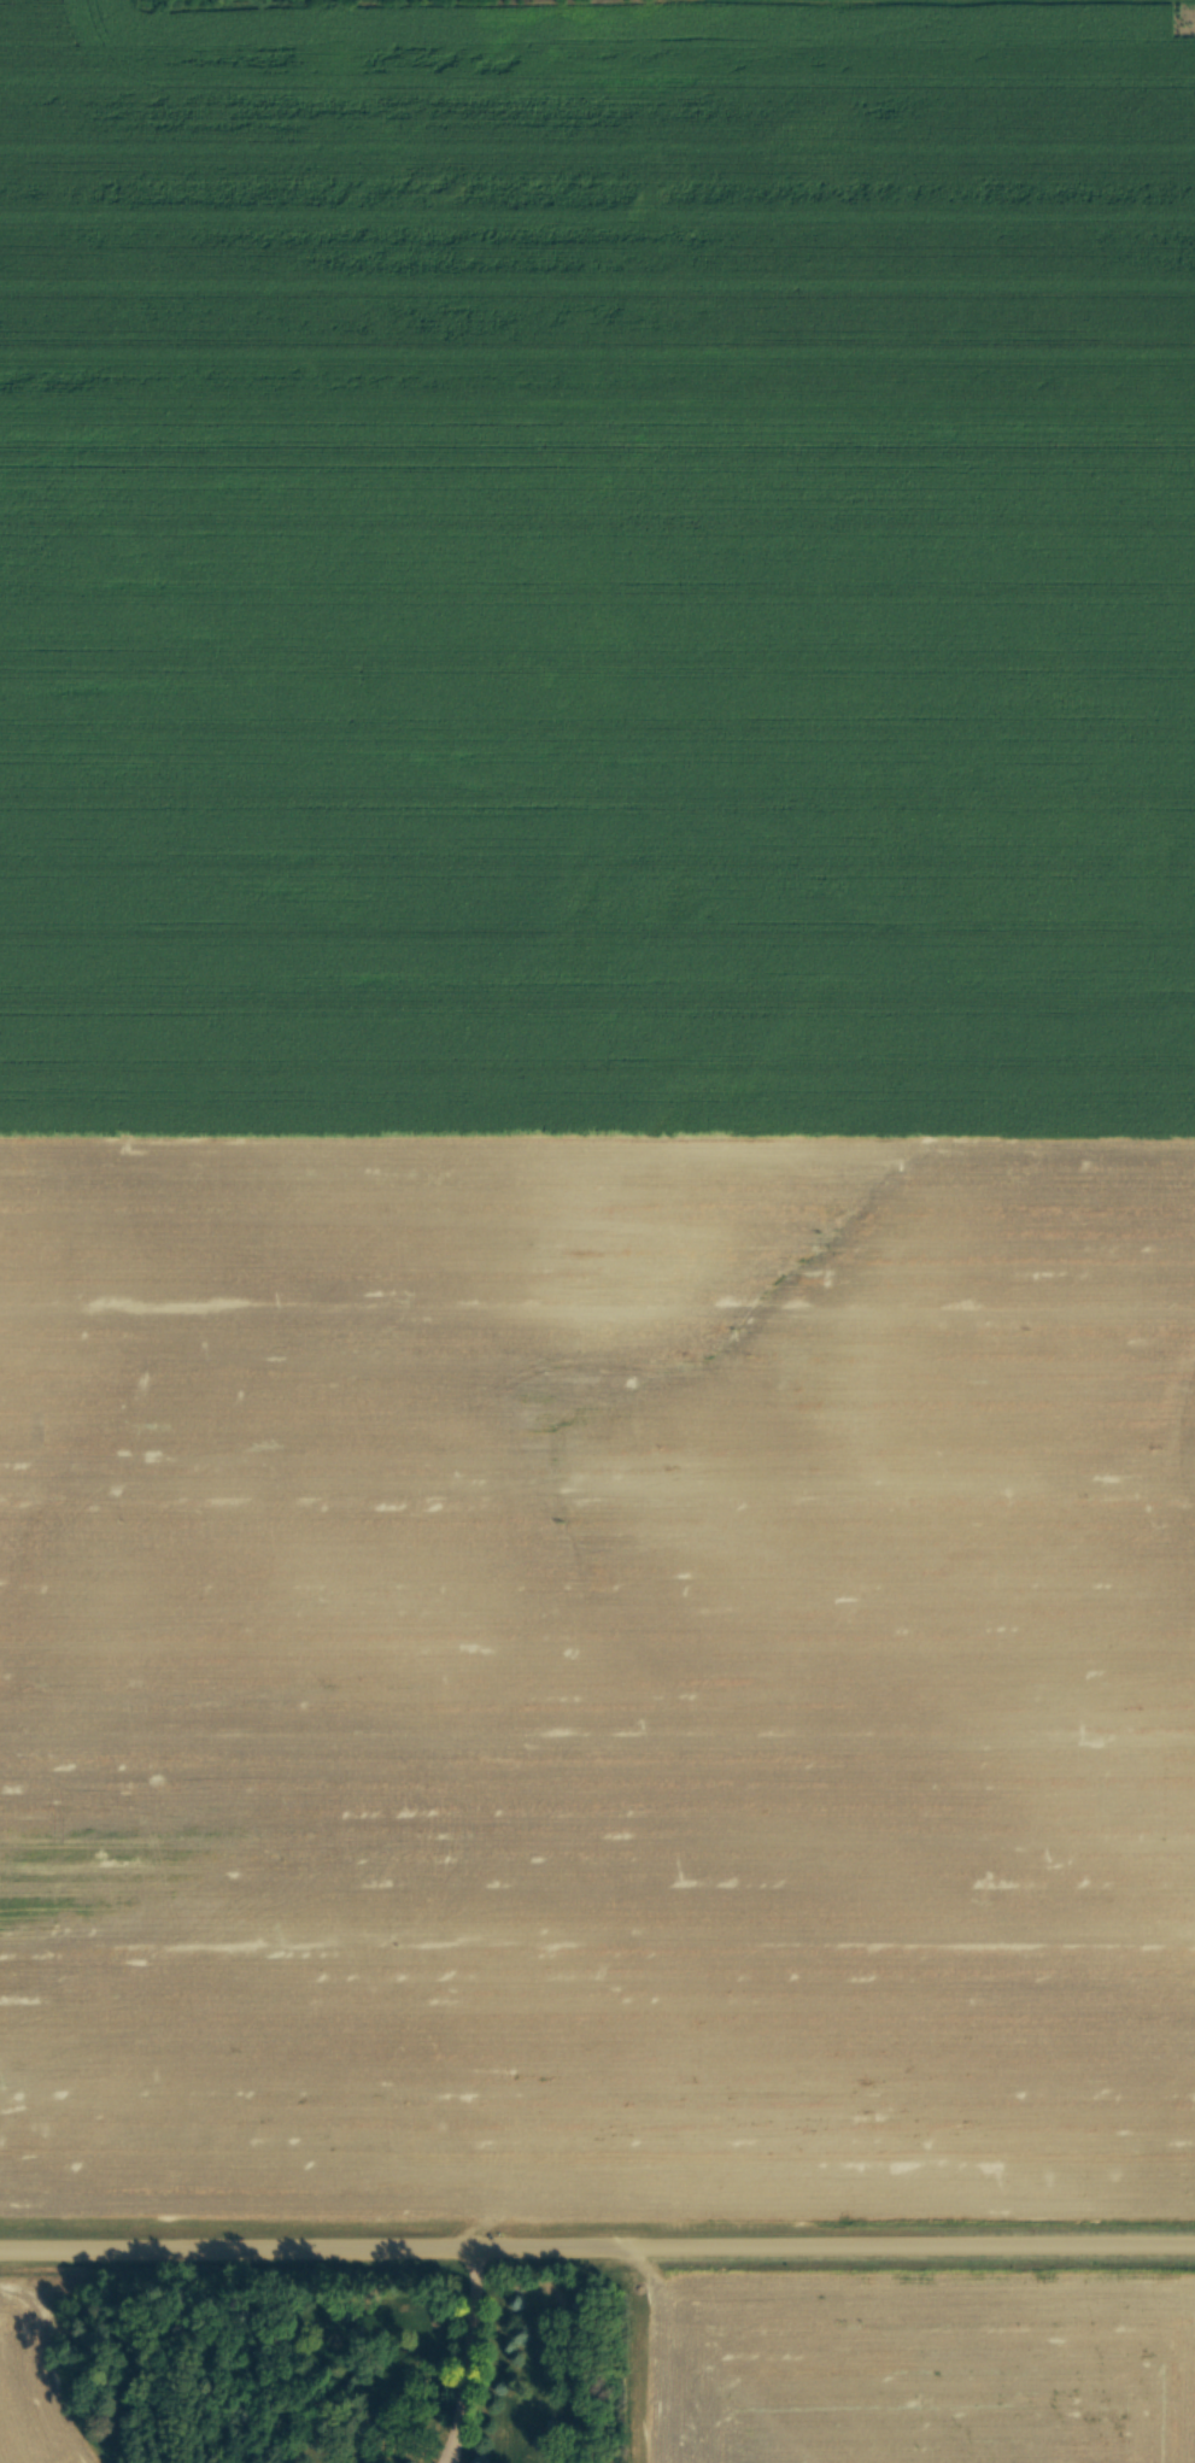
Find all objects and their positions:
road: (597, 2253)
road: (469, 2358)
road: (450, 2462)
road: (451, 2462)

